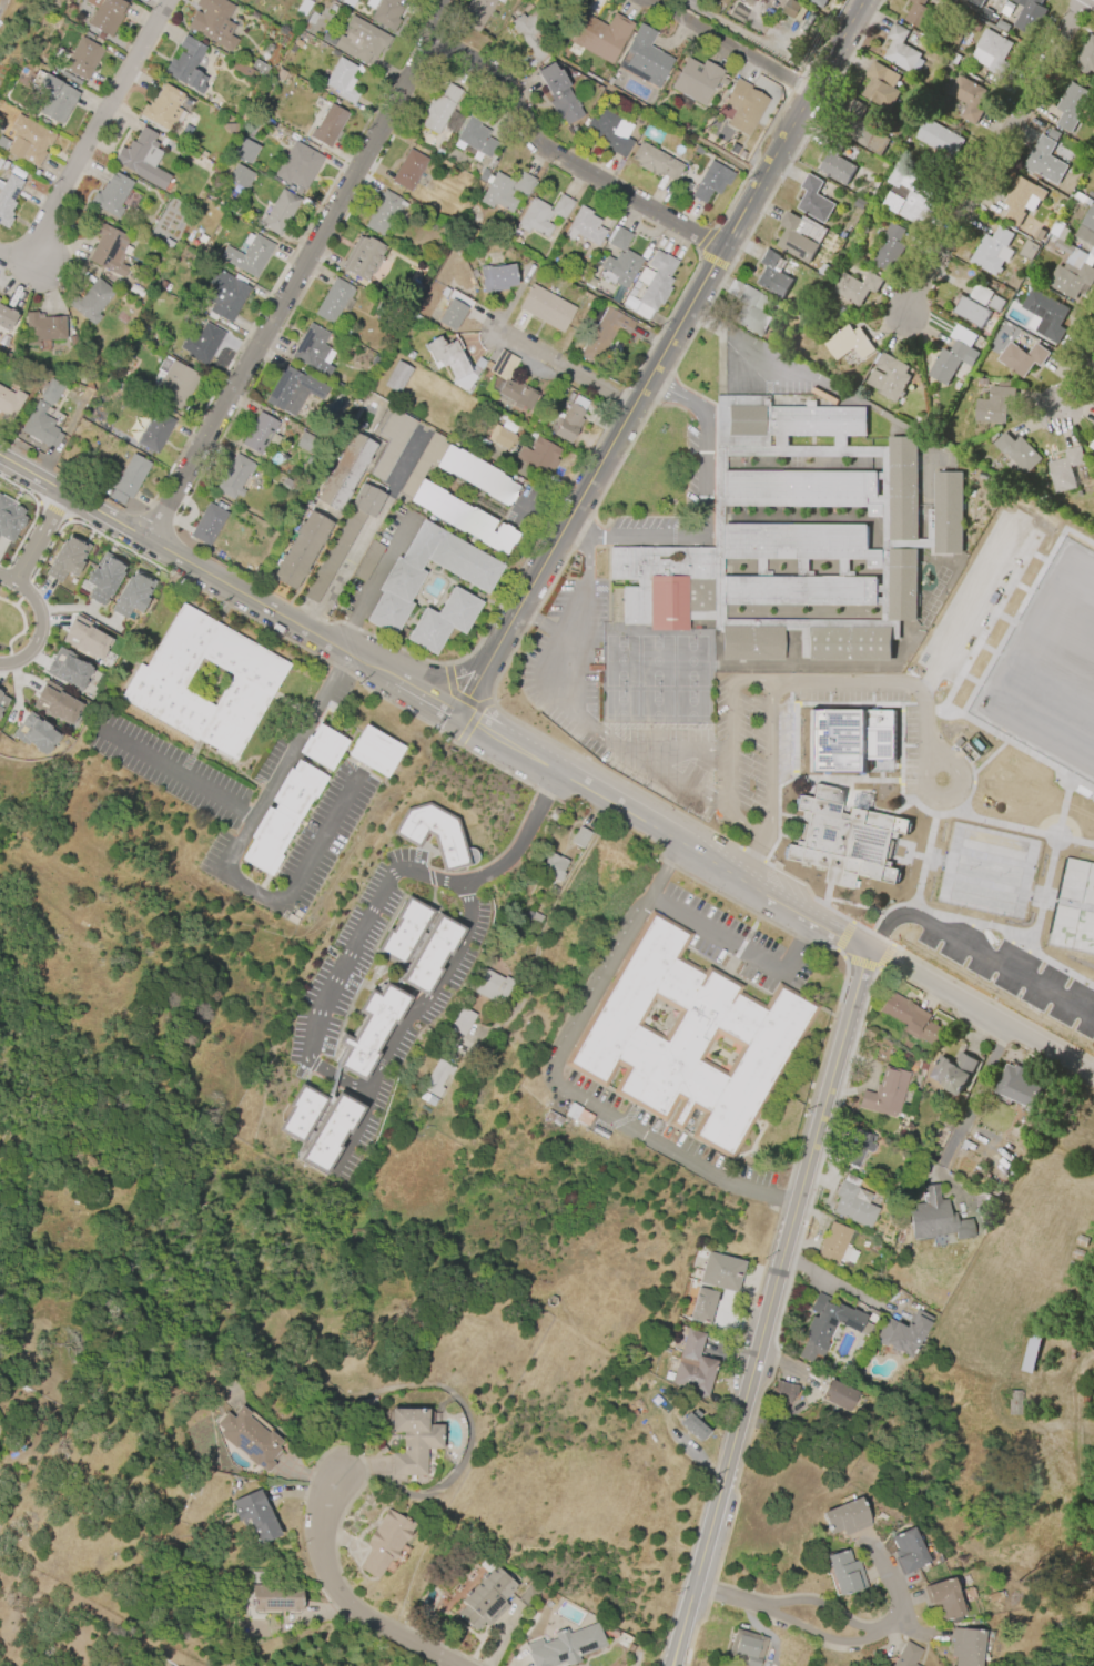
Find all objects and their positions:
building: (818, 2)
building: (975, 2)
building: (790, 8)
building: (1006, 8)
building: (386, 13)
building: (475, 13)
building: (984, 13)
building: (105, 14)
building: (920, 14)
building: (1029, 16)
building: (312, 18)
building: (213, 22)
building: (1001, 26)
building: (534, 35)
building: (600, 35)
building: (361, 40)
road: (754, 40)
road: (727, 48)
building: (899, 49)
building: (993, 52)
building: (642, 58)
building: (952, 58)
building: (82, 59)
building: (1087, 59)
building: (186, 65)
building: (259, 67)
building: (240, 69)
building: (342, 80)
building: (696, 80)
building: (879, 84)
building: (558, 94)
building: (965, 98)
building: (54, 99)
building: (1070, 105)
building: (162, 106)
building: (743, 106)
building: (438, 109)
building: (328, 125)
building: (230, 128)
building: (860, 129)
building: (609, 132)
building: (1052, 134)
building: (475, 136)
building: (939, 139)
building: (28, 141)
road: (88, 142)
building: (244, 150)
road: (994, 158)
building: (142, 159)
road: (559, 160)
building: (834, 161)
building: (1044, 161)
building: (655, 162)
building: (297, 165)
building: (408, 170)
building: (240, 177)
building: (710, 182)
building: (523, 183)
building: (685, 185)
building: (498, 192)
building: (909, 193)
building: (111, 194)
building: (7, 199)
building: (813, 200)
building: (1019, 200)
building: (1093, 200)
building: (859, 203)
building: (278, 212)
building: (383, 212)
building: (543, 214)
building: (1086, 221)
building: (584, 227)
building: (1037, 234)
building: (619, 238)
building: (793, 238)
building: (888, 247)
building: (108, 250)
building: (991, 250)
building: (1027, 250)
building: (247, 255)
building: (362, 257)
building: (622, 267)
road: (298, 270)
building: (822, 270)
building: (1071, 270)
building: (770, 275)
building: (496, 278)
building: (658, 280)
building: (854, 287)
building: (634, 294)
building: (980, 294)
building: (224, 296)
building: (90, 301)
building: (333, 301)
building: (994, 303)
building: (546, 308)
building: (453, 309)
building: (970, 311)
building: (749, 313)
building: (1045, 314)
building: (6, 317)
building: (42, 328)
building: (602, 334)
building: (201, 343)
building: (848, 343)
building: (312, 349)
road: (766, 349)
road: (660, 352)
building: (408, 355)
building: (1021, 357)
building: (950, 362)
building: (453, 363)
building: (503, 365)
road: (561, 366)
road: (1076, 376)
building: (396, 377)
building: (888, 377)
building: (982, 380)
building: (175, 385)
parking lot: (788, 386)
building: (292, 389)
building: (50, 392)
road: (676, 393)
building: (517, 395)
building: (9, 404)
building: (994, 404)
building: (568, 424)
building: (1093, 425)
building: (40, 426)
building: (154, 431)
building: (257, 434)
building: (503, 438)
building: (391, 441)
building: (305, 443)
building: (1093, 446)
building: (1016, 451)
building: (540, 457)
building: (423, 463)
parking lot: (690, 467)
building: (1064, 469)
building: (344, 471)
building: (476, 475)
building: (234, 477)
building: (126, 479)
building: (288, 485)
building: (462, 518)
building: (9, 519)
parking lot: (646, 522)
building: (207, 524)
road: (699, 528)
building: (796, 537)
building: (343, 538)
road: (40, 539)
road: (587, 540)
building: (301, 549)
building: (67, 558)
building: (368, 560)
road: (338, 573)
building: (102, 578)
road: (374, 581)
building: (399, 581)
building: (132, 595)
park: (1050, 599)
road: (578, 606)
building: (442, 620)
road: (39, 622)
road: (543, 624)
building: (85, 638)
parking lot: (566, 657)
building: (68, 669)
park: (1080, 674)
road: (565, 677)
road: (751, 679)
road: (835, 681)
building: (205, 682)
road: (434, 695)
building: (2, 702)
building: (55, 703)
road: (920, 720)
building: (34, 734)
building: (849, 737)
building: (322, 746)
building: (374, 751)
parking lot: (750, 751)
road: (282, 758)
road: (769, 760)
park: (1016, 764)
road: (730, 766)
road: (171, 772)
road: (962, 774)
building: (281, 816)
building: (434, 834)
building: (579, 837)
building: (843, 837)
road: (322, 842)
road: (513, 855)
road: (751, 857)
building: (553, 867)
road: (662, 876)
road: (245, 887)
building: (551, 891)
building: (536, 917)
building: (403, 931)
road: (717, 937)
road: (798, 946)
building: (430, 955)
park: (1072, 962)
road: (344, 963)
building: (492, 986)
road: (597, 998)
road: (419, 1007)
road: (977, 1010)
building: (909, 1018)
building: (462, 1020)
building: (369, 1030)
building: (689, 1039)
building: (951, 1073)
building: (436, 1077)
building: (1016, 1086)
building: (885, 1094)
building: (427, 1099)
building: (301, 1113)
road: (965, 1114)
road: (361, 1130)
building: (330, 1132)
road: (654, 1139)
building: (855, 1146)
road: (777, 1200)
building: (852, 1206)
building: (935, 1218)
building: (833, 1243)
building: (720, 1271)
road: (838, 1284)
building: (702, 1306)
road: (769, 1307)
road: (784, 1319)
building: (829, 1325)
building: (902, 1333)
building: (692, 1365)
building: (782, 1392)
building: (838, 1394)
road: (810, 1399)
building: (693, 1425)
building: (250, 1439)
building: (413, 1440)
road: (445, 1481)
building: (255, 1515)
building: (843, 1517)
building: (385, 1544)
building: (906, 1551)
building: (842, 1572)
building: (529, 1593)
road: (895, 1593)
road: (732, 1596)
building: (275, 1597)
building: (945, 1597)
building: (485, 1599)
road: (344, 1602)
road: (827, 1602)
parking lot: (774, 1618)
road: (754, 1622)
road: (820, 1636)
building: (565, 1646)
parking lot: (839, 1646)
building: (970, 1646)
building: (746, 1647)
building: (906, 1656)

